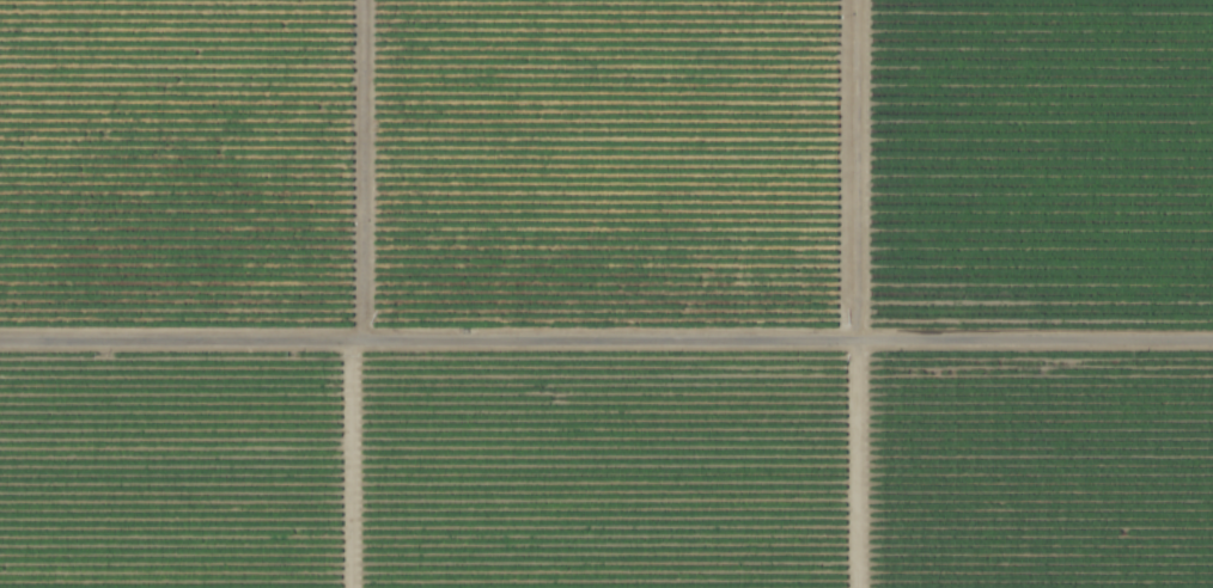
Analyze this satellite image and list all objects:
crop: (606, 294)
road: (606, 353)

